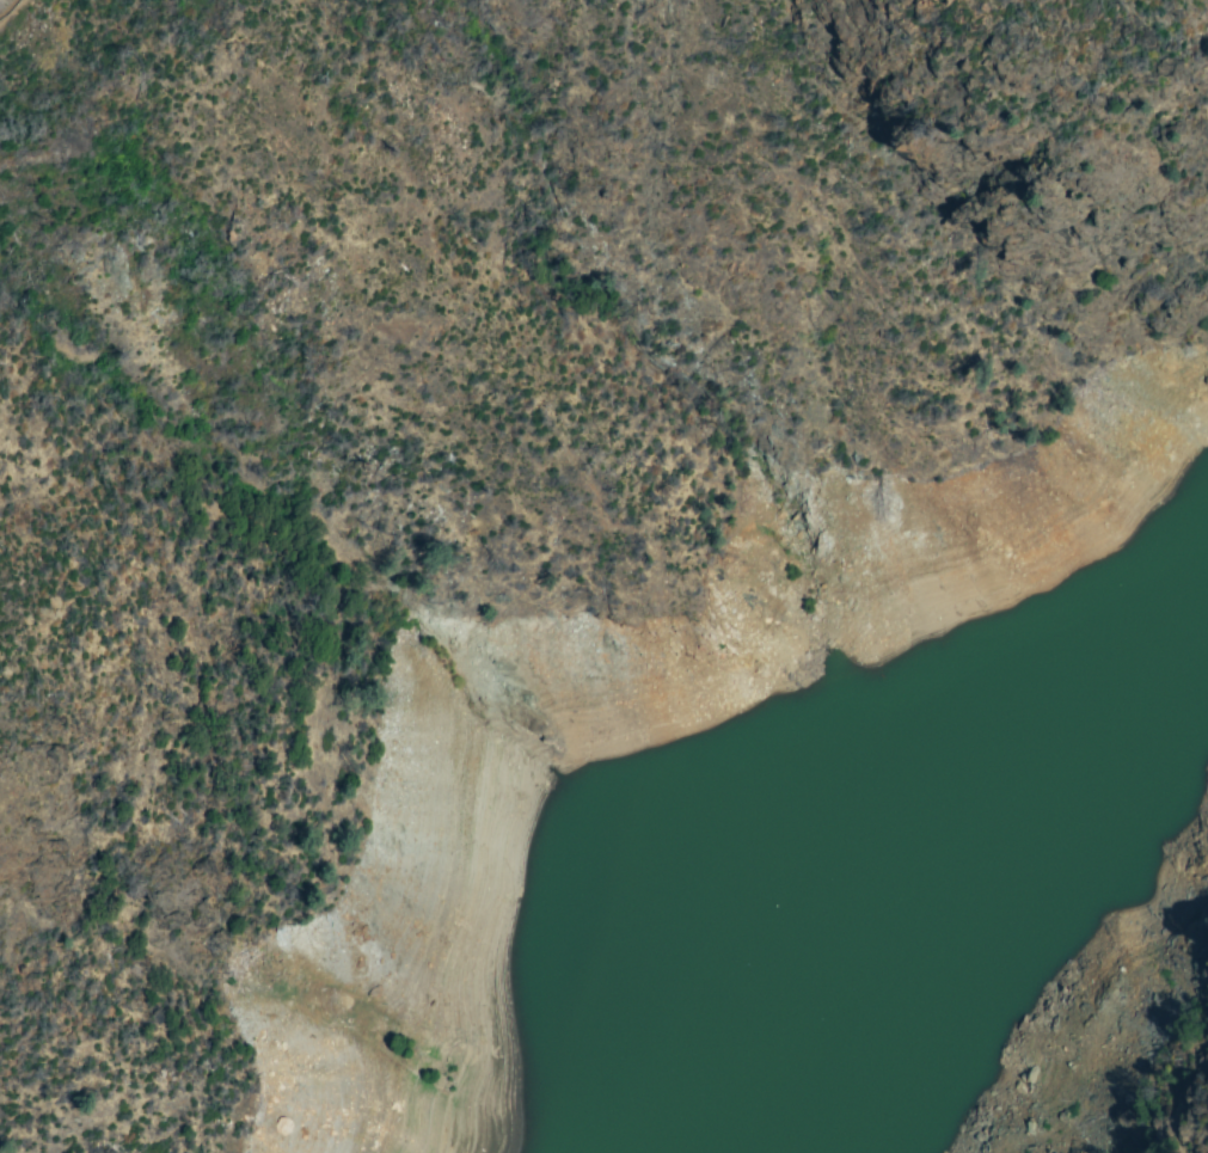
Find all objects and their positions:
river: (921, 815)

